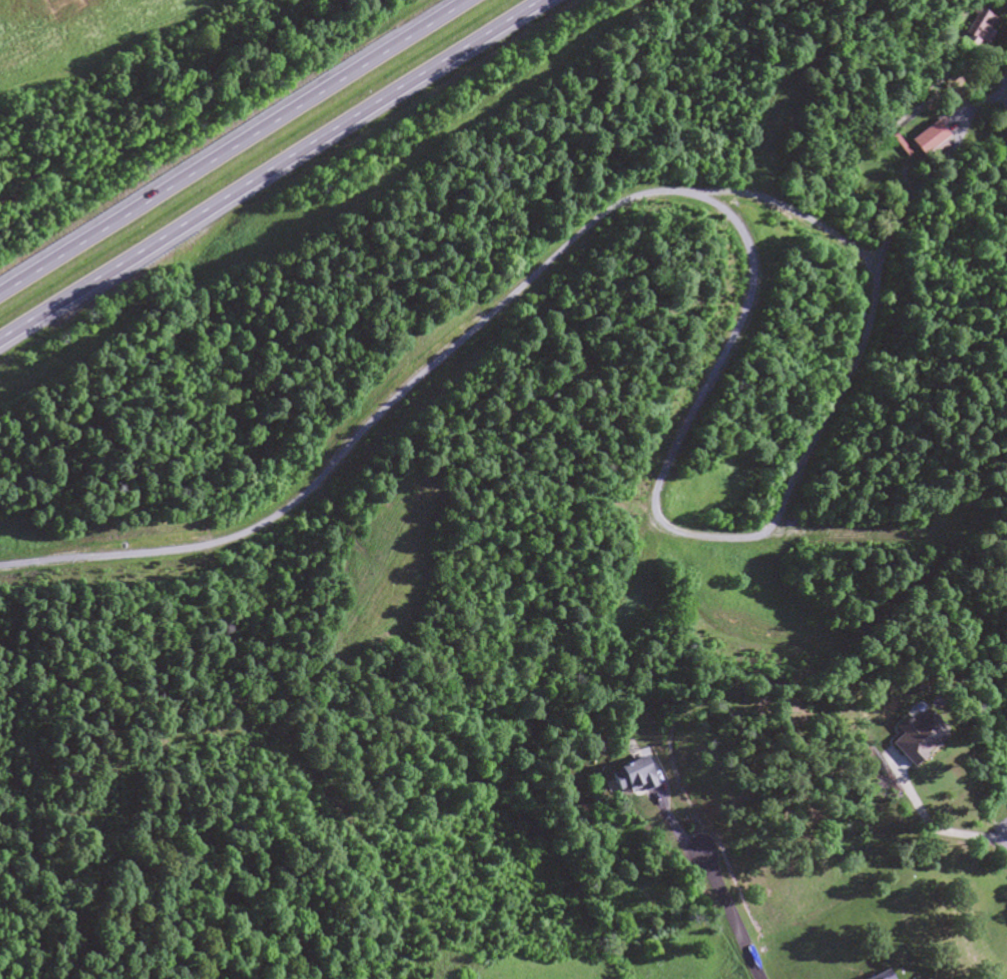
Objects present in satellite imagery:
building: (971, 32)
building: (925, 139)
road: (233, 146)
road: (272, 171)
road: (371, 427)
road: (763, 532)
building: (911, 738)
building: (626, 778)
road: (936, 831)
road: (731, 913)
building: (877, 976)

